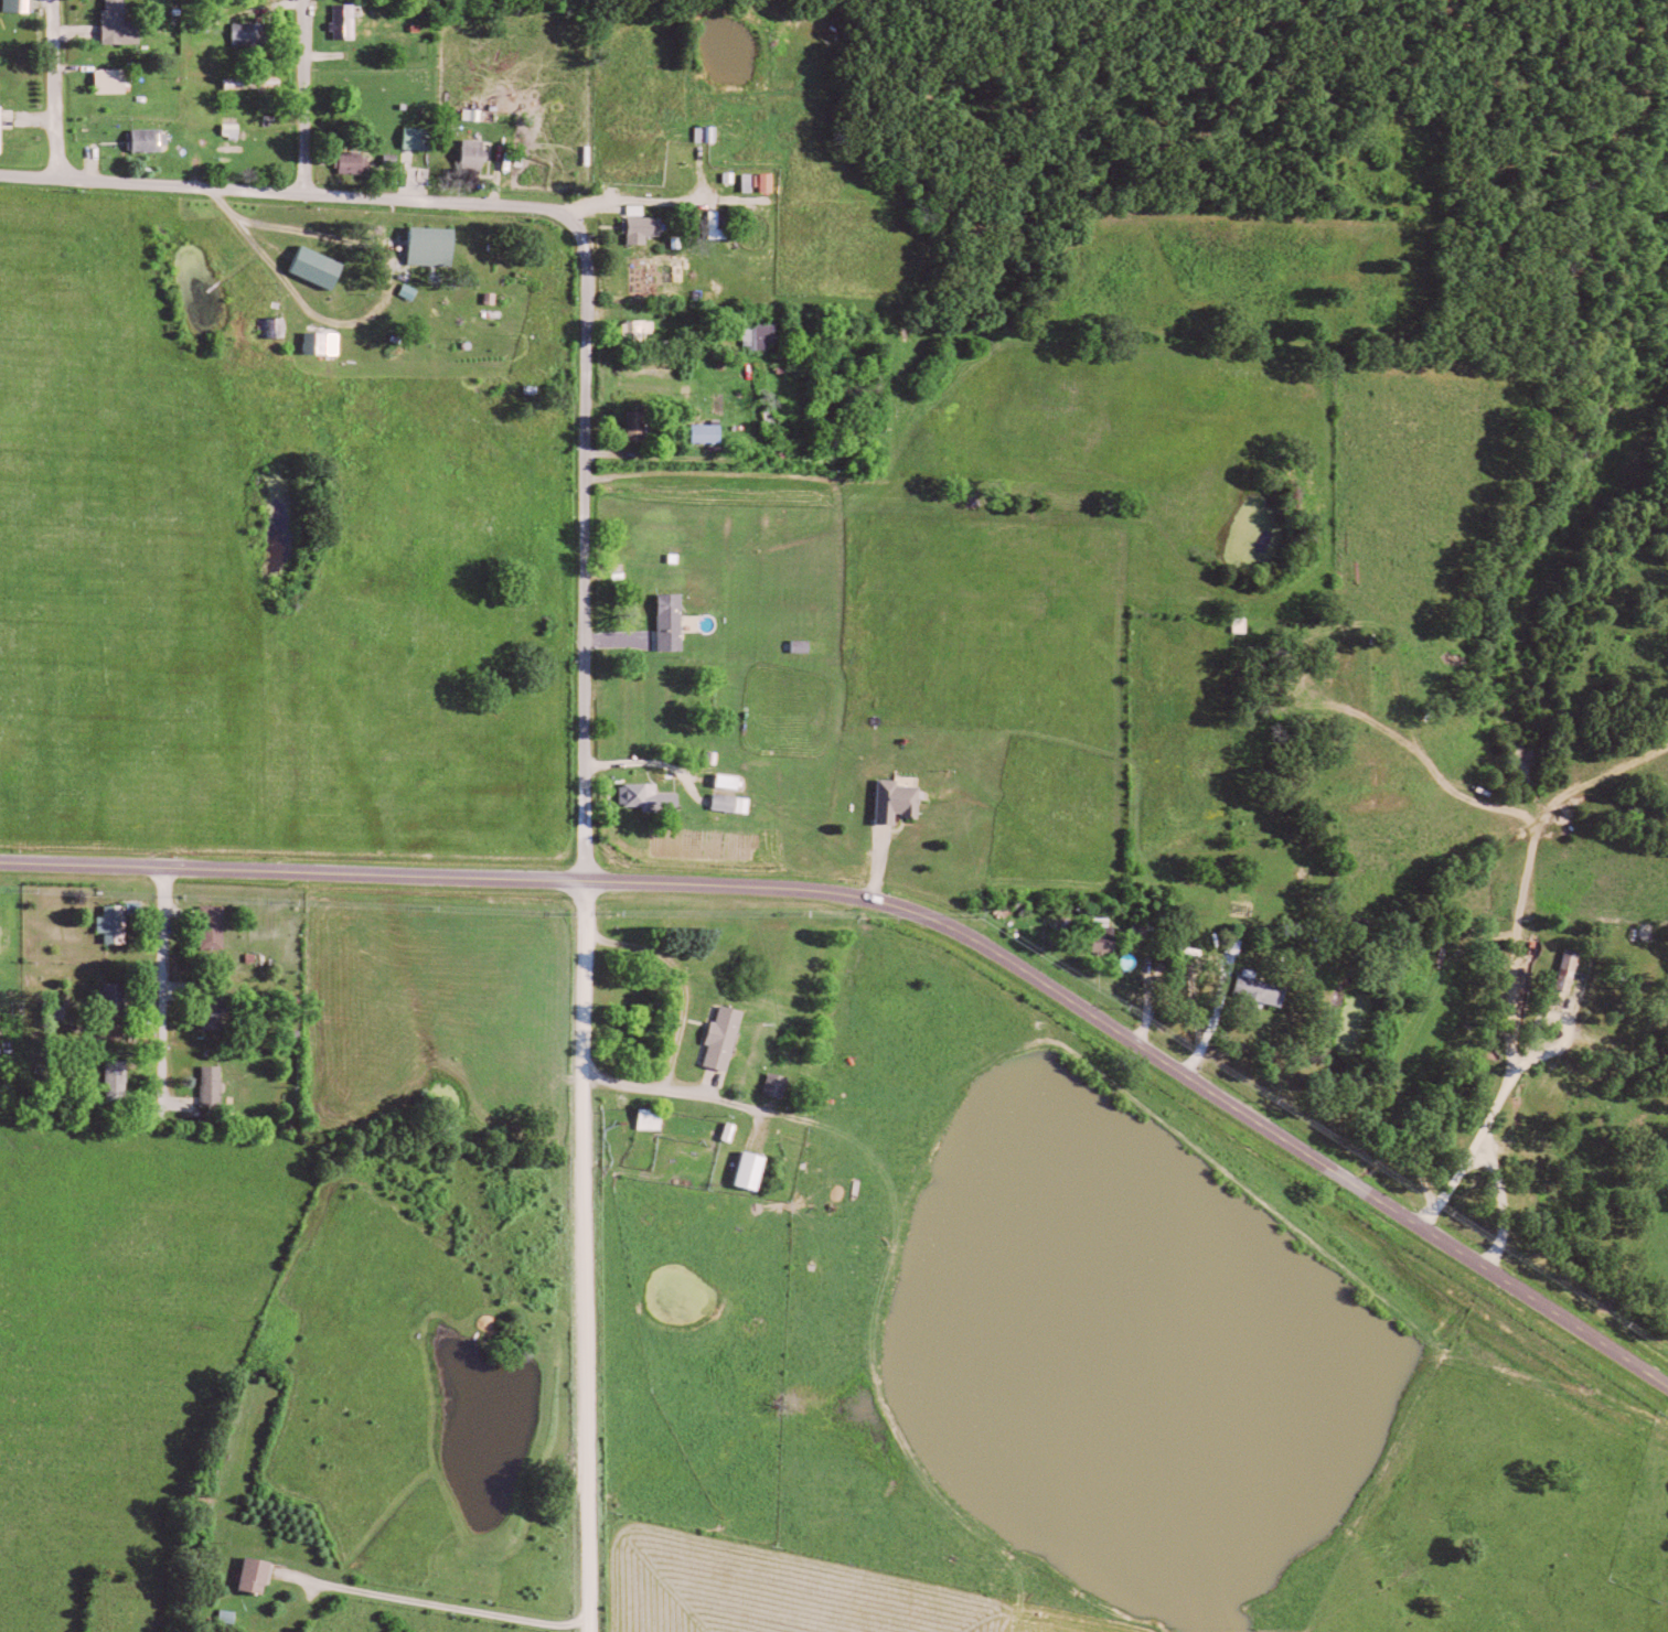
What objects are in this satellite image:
building: (22, 6)
building: (350, 21)
building: (124, 23)
building: (256, 34)
building: (117, 80)
building: (259, 82)
road: (57, 90)
road: (304, 98)
building: (3, 128)
building: (425, 138)
building: (152, 139)
building: (479, 150)
building: (357, 162)
building: (753, 182)
building: (772, 182)
road: (286, 194)
building: (645, 225)
building: (721, 225)
building: (438, 245)
building: (324, 267)
building: (414, 291)
building: (642, 330)
building: (764, 336)
building: (328, 342)
road: (660, 395)
building: (641, 426)
building: (713, 432)
road: (588, 548)
building: (675, 621)
building: (806, 645)
building: (734, 782)
building: (653, 797)
building: (901, 802)
building: (736, 803)
road: (900, 912)
building: (119, 924)
building: (217, 926)
building: (1108, 931)
road: (1526, 960)
building: (1571, 970)
road: (167, 988)
building: (1264, 988)
road: (1196, 995)
building: (121, 999)
building: (216, 1007)
road: (676, 1030)
building: (728, 1038)
road: (1571, 1038)
building: (122, 1080)
building: (217, 1085)
building: (781, 1085)
building: (6, 1097)
building: (655, 1119)
building: (735, 1131)
building: (757, 1170)
road: (1503, 1205)
road: (584, 1258)
building: (260, 1574)
road: (428, 1608)

